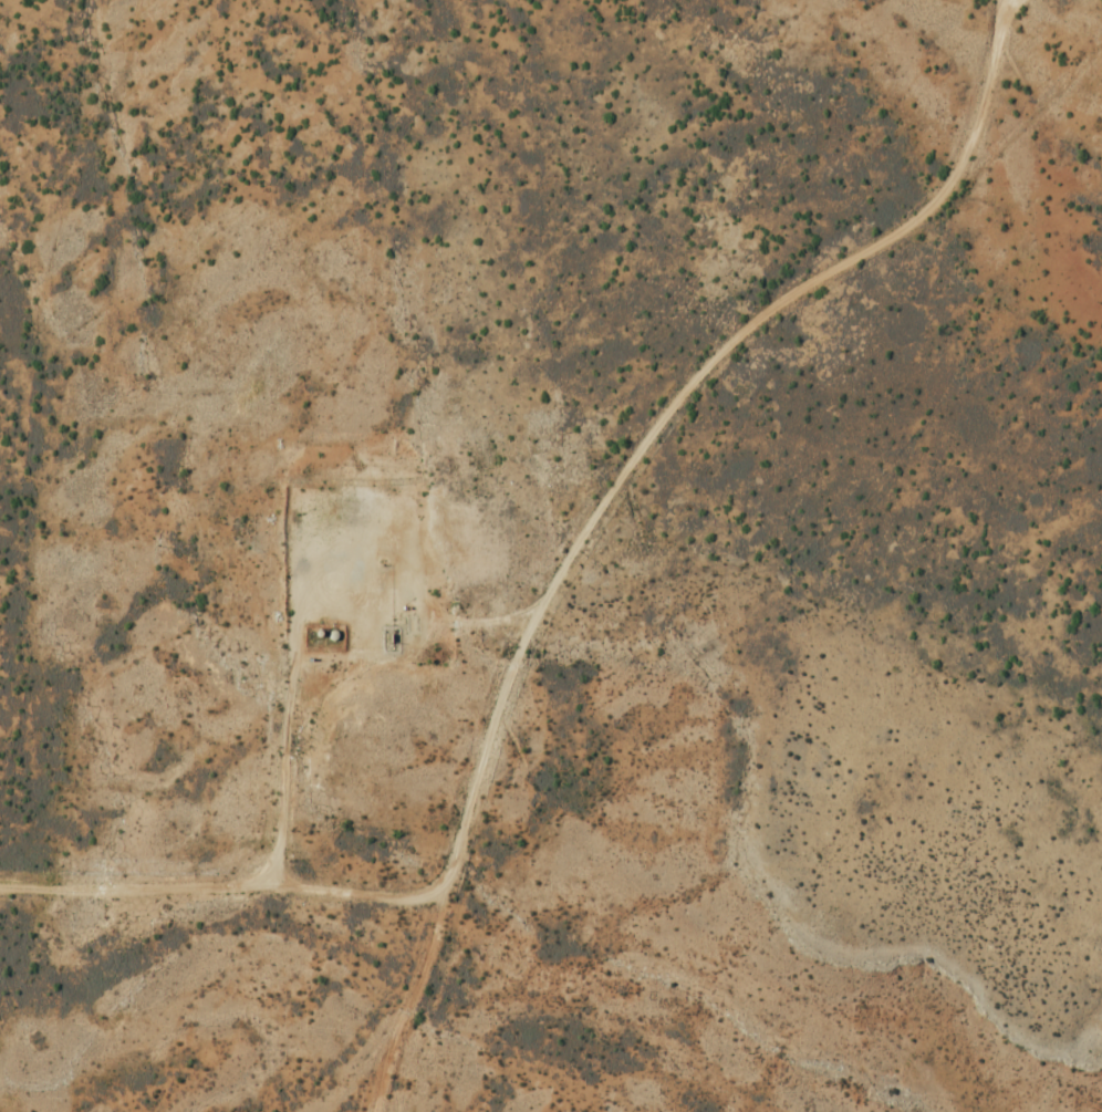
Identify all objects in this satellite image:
road: (987, 89)
road: (560, 572)
road: (282, 779)
road: (136, 875)

